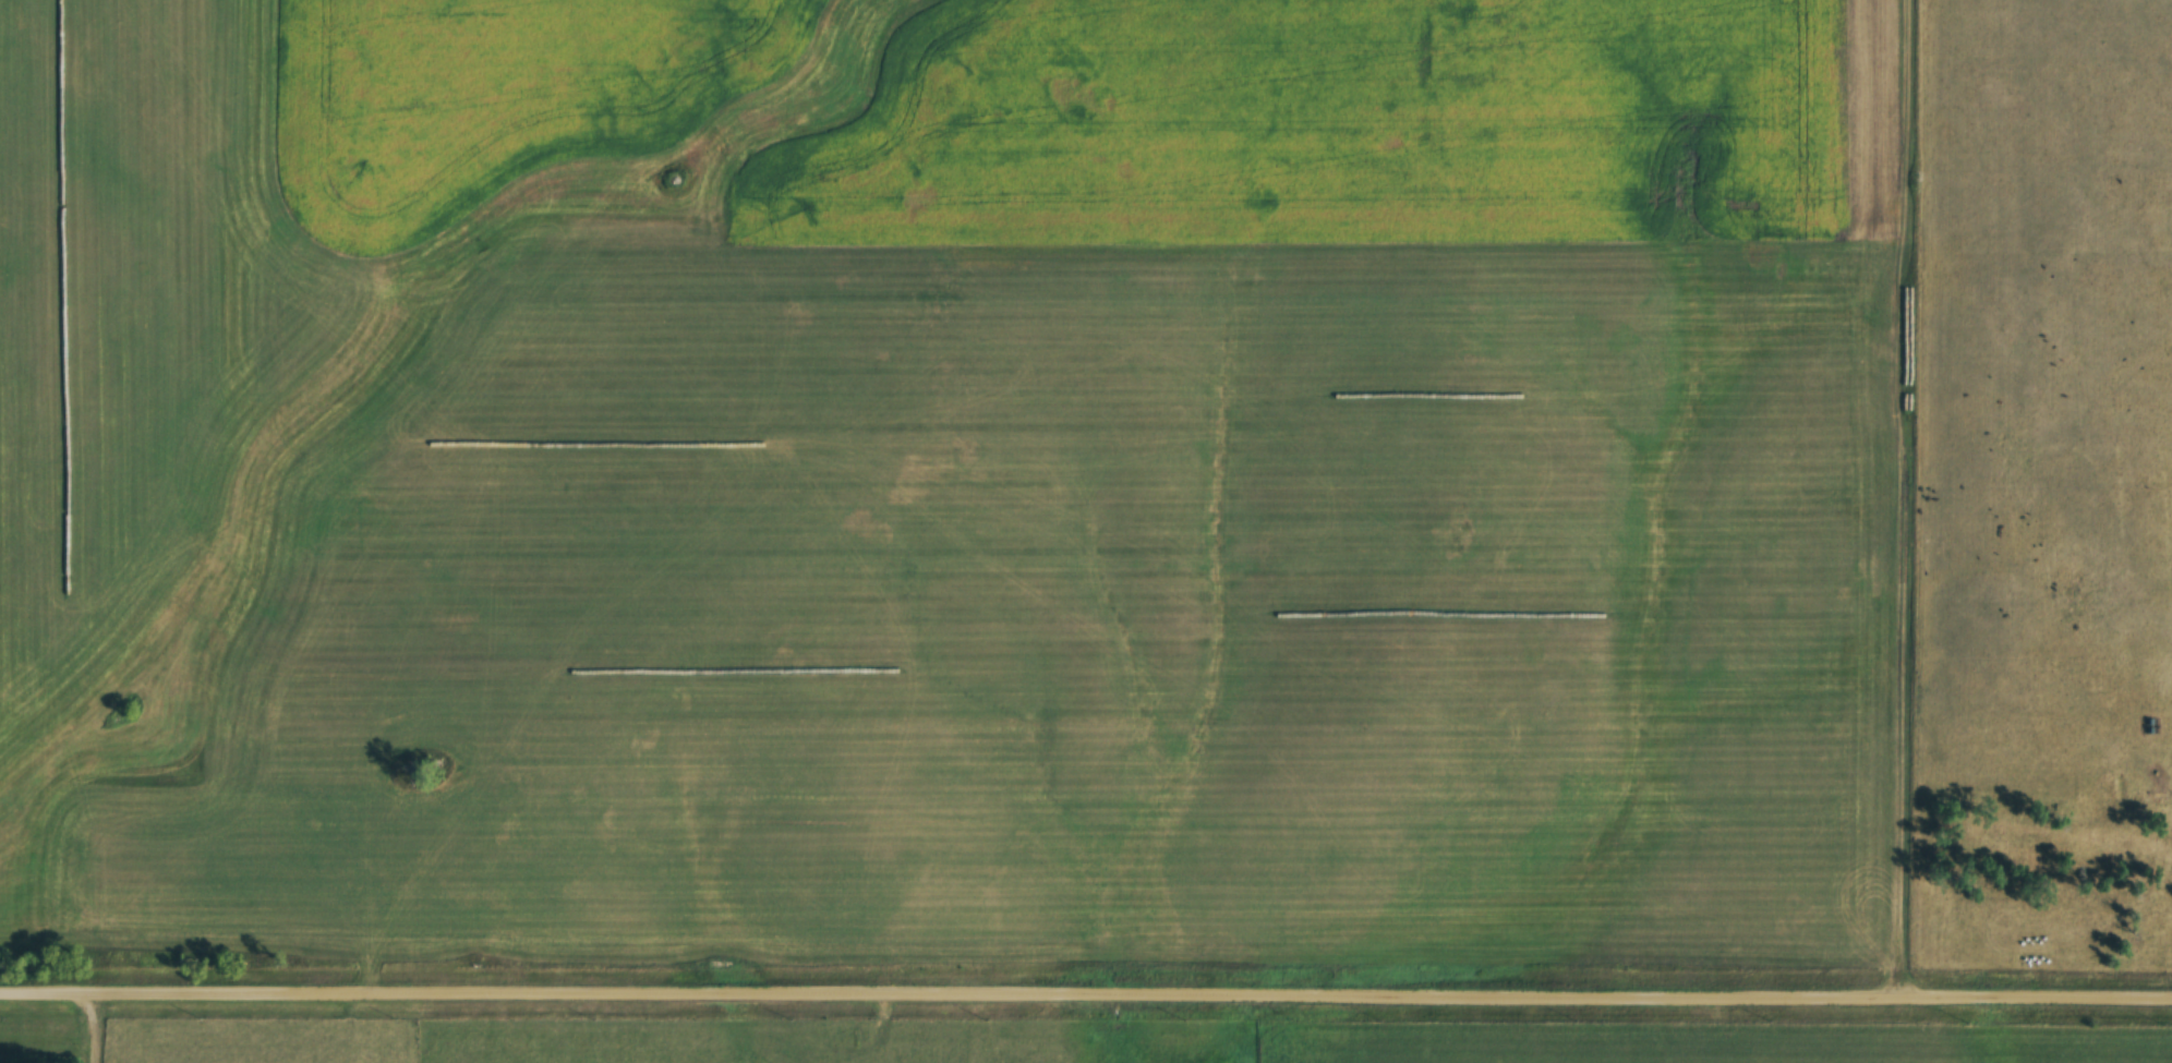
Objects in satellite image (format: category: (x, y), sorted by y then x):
road: (1086, 990)
road: (96, 1025)

